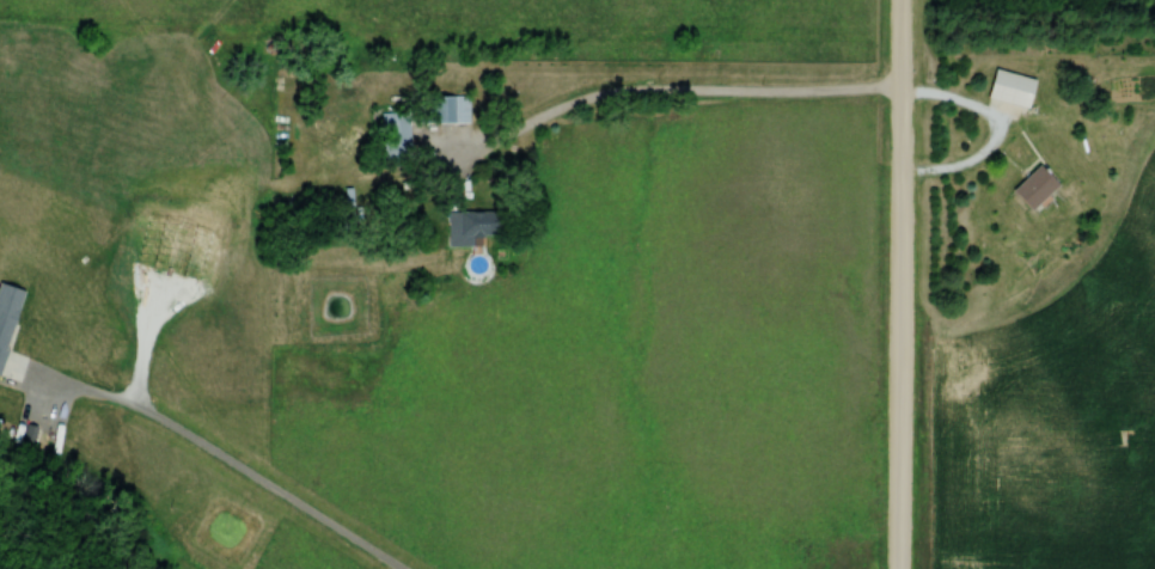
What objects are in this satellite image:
building: (1008, 87)
road: (790, 93)
building: (447, 110)
building: (395, 135)
building: (1031, 188)
building: (348, 200)
building: (466, 227)
road: (898, 283)
building: (6, 312)
road: (213, 451)

